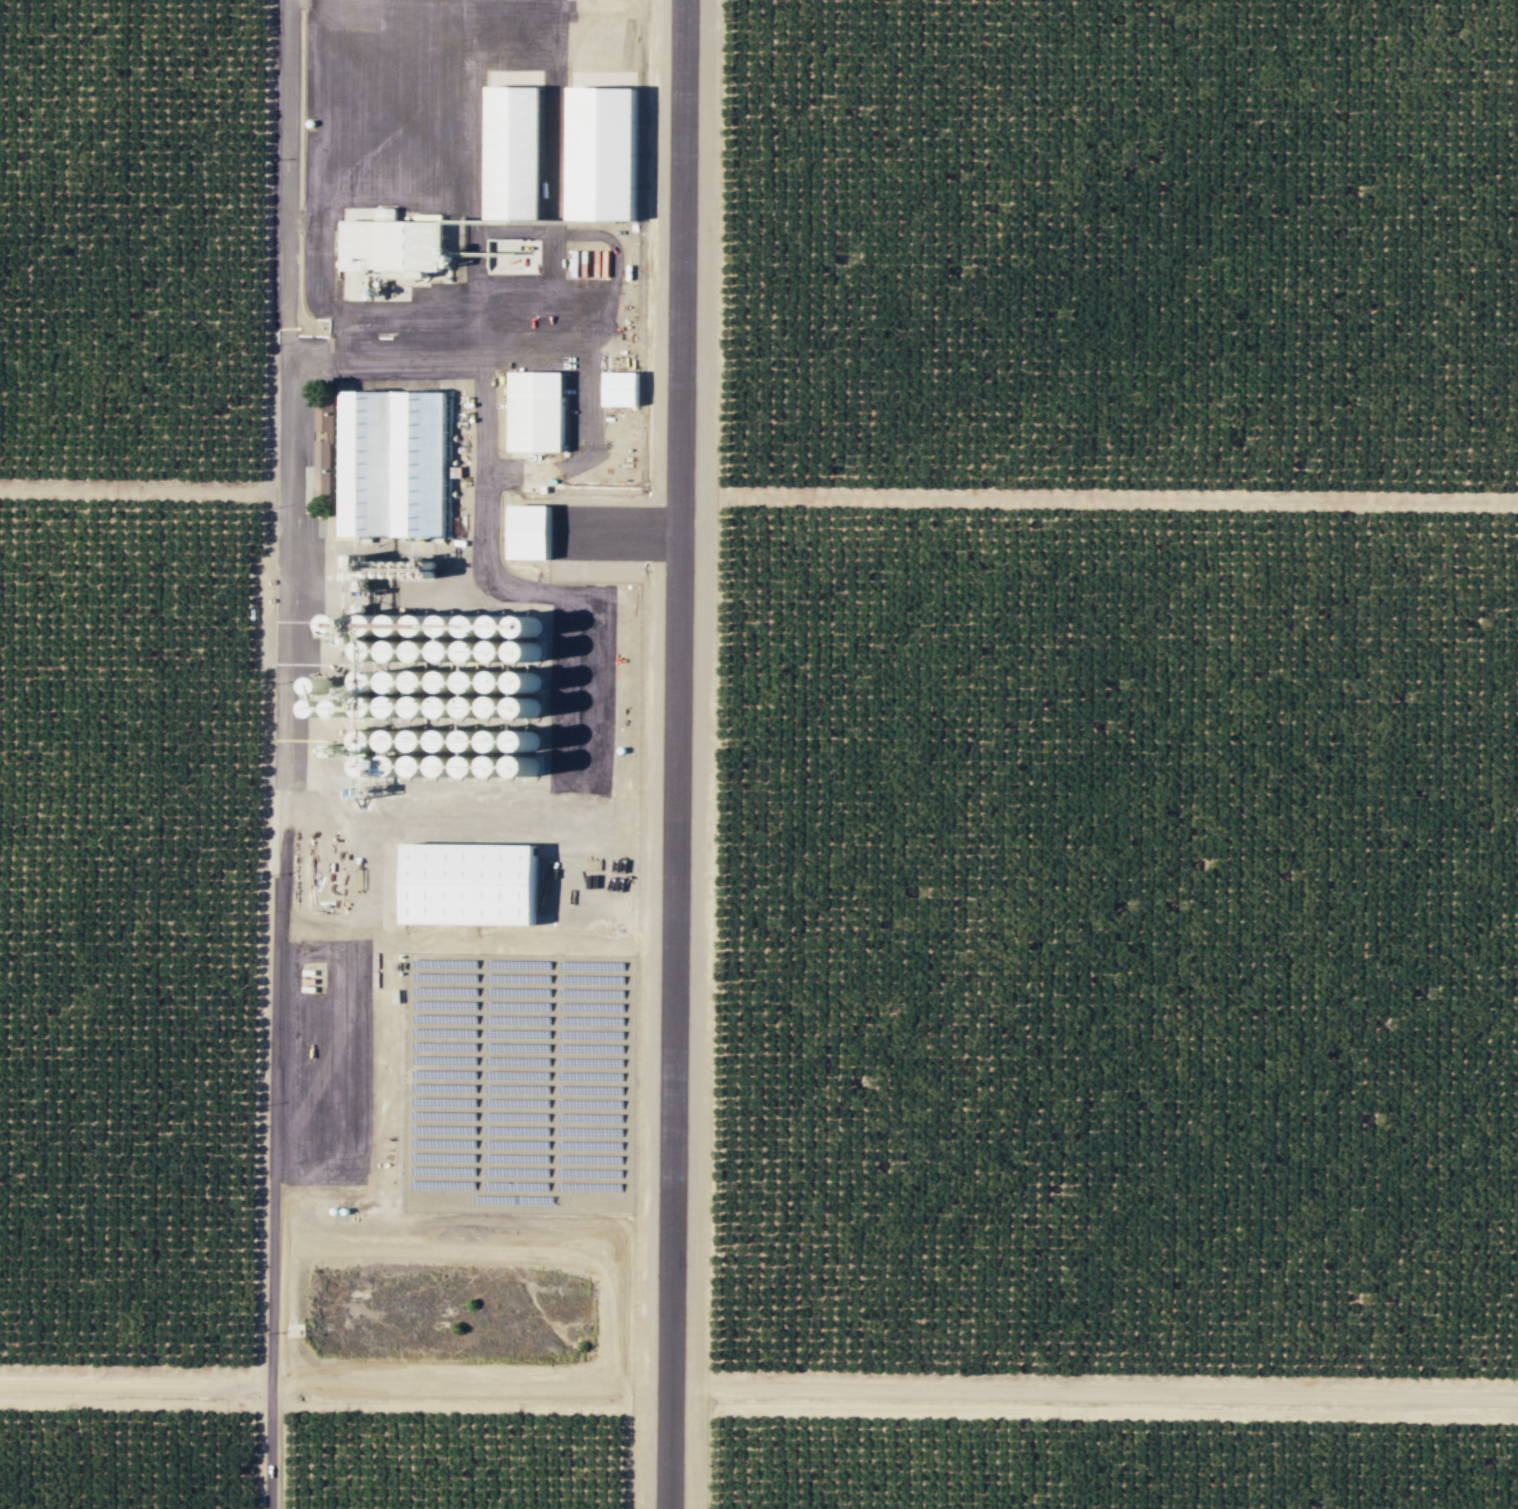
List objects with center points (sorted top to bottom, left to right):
building: (520, 150)
building: (611, 152)
building: (397, 244)
building: (573, 262)
building: (602, 263)
building: (624, 387)
building: (539, 410)
building: (390, 464)
road: (144, 489)
road: (1117, 499)
building: (536, 532)
road: (570, 603)
airport: (665, 741)
road: (283, 754)
airport runway: (675, 754)
road: (714, 754)
building: (478, 882)
solar farm: (518, 1081)
road: (135, 1382)
road: (1114, 1392)

